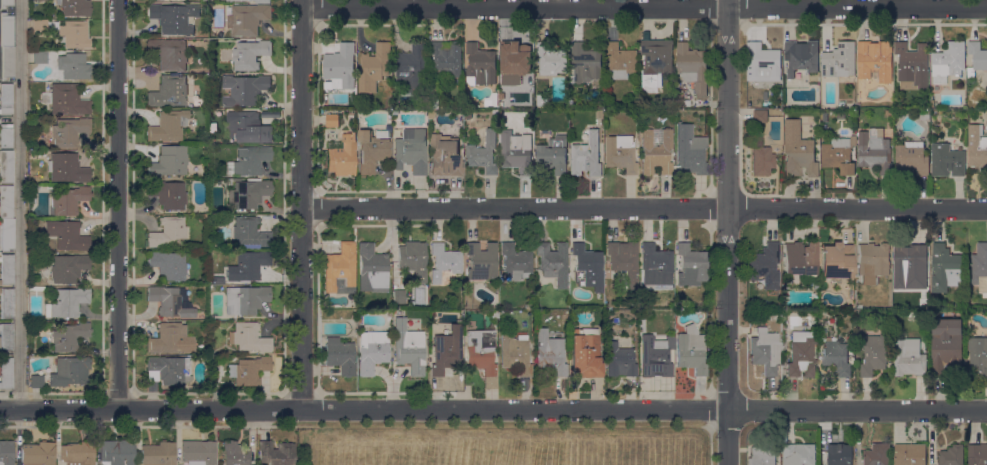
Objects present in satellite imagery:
building: (44, 0)
building: (156, 0)
building: (237, 0)
building: (262, 0)
building: (204, 1)
road: (595, 3)
road: (696, 3)
building: (5, 4)
road: (388, 4)
road: (455, 4)
road: (491, 4)
road: (630, 4)
road: (665, 4)
road: (810, 4)
road: (846, 4)
road: (881, 5)
road: (918, 5)
building: (74, 7)
road: (644, 8)
building: (174, 18)
building: (247, 18)
road: (507, 23)
road: (612, 23)
road: (355, 24)
road: (437, 24)
road: (790, 24)
road: (472, 25)
building: (39, 26)
road: (828, 28)
building: (6, 30)
road: (936, 31)
road: (360, 32)
road: (278, 33)
road: (395, 33)
building: (74, 34)
road: (484, 39)
road: (318, 46)
building: (169, 54)
building: (249, 54)
building: (801, 57)
building: (976, 57)
building: (40, 58)
building: (445, 58)
building: (551, 59)
building: (874, 59)
building: (515, 60)
building: (620, 60)
building: (655, 61)
building: (763, 61)
building: (839, 61)
building: (948, 61)
building: (7, 62)
building: (341, 64)
building: (479, 64)
building: (586, 64)
building: (912, 65)
building: (71, 66)
building: (374, 66)
building: (412, 67)
building: (693, 67)
road: (277, 69)
building: (36, 86)
building: (433, 86)
building: (501, 86)
building: (244, 89)
building: (168, 92)
building: (6, 99)
building: (65, 100)
building: (542, 100)
building: (788, 105)
building: (395, 111)
building: (888, 112)
building: (432, 113)
building: (495, 113)
building: (600, 113)
building: (469, 114)
building: (925, 114)
building: (575, 115)
building: (760, 115)
building: (822, 116)
building: (332, 119)
building: (167, 126)
building: (248, 127)
building: (69, 132)
building: (6, 133)
building: (976, 146)
building: (372, 150)
building: (798, 150)
building: (874, 150)
building: (411, 151)
building: (516, 151)
building: (656, 151)
building: (690, 151)
building: (482, 152)
building: (620, 153)
building: (553, 154)
building: (586, 154)
building: (839, 154)
building: (342, 156)
building: (445, 156)
building: (911, 157)
building: (249, 160)
building: (761, 160)
building: (946, 161)
building: (169, 162)
building: (6, 167)
building: (66, 169)
road: (266, 170)
road: (286, 175)
road: (268, 176)
road: (478, 176)
road: (587, 176)
building: (922, 184)
road: (594, 191)
road: (454, 192)
building: (248, 193)
road: (525, 193)
road: (561, 193)
building: (32, 194)
building: (167, 194)
road: (488, 194)
building: (69, 201)
building: (5, 202)
road: (119, 204)
road: (301, 204)
road: (21, 205)
road: (149, 206)
road: (644, 208)
road: (130, 214)
building: (201, 219)
road: (150, 221)
building: (168, 232)
building: (249, 232)
road: (726, 232)
building: (7, 234)
building: (67, 236)
building: (623, 256)
building: (910, 256)
building: (413, 260)
building: (798, 260)
building: (481, 261)
building: (836, 261)
building: (444, 262)
building: (516, 262)
building: (872, 262)
building: (553, 263)
building: (168, 265)
building: (765, 265)
building: (248, 266)
building: (588, 266)
building: (656, 266)
building: (691, 266)
building: (978, 266)
building: (944, 267)
building: (68, 268)
building: (6, 270)
building: (339, 270)
building: (371, 270)
road: (141, 281)
building: (815, 285)
building: (36, 289)
building: (398, 297)
building: (245, 300)
building: (170, 302)
building: (7, 303)
building: (67, 303)
building: (529, 307)
building: (816, 307)
building: (814, 312)
building: (911, 313)
building: (389, 314)
building: (494, 314)
building: (501, 314)
building: (771, 314)
road: (147, 315)
road: (125, 320)
road: (147, 325)
building: (6, 336)
building: (68, 337)
building: (248, 338)
building: (170, 340)
building: (200, 347)
building: (408, 347)
building: (947, 347)
building: (372, 351)
building: (447, 351)
building: (691, 351)
building: (764, 351)
building: (549, 352)
building: (515, 353)
building: (481, 354)
building: (873, 354)
building: (585, 355)
building: (655, 355)
building: (801, 355)
building: (340, 356)
building: (978, 356)
building: (200, 357)
building: (836, 357)
building: (908, 357)
building: (619, 361)
building: (167, 370)
building: (69, 371)
building: (248, 371)
building: (6, 373)
building: (36, 382)
road: (208, 393)
road: (493, 409)
road: (520, 425)
road: (147, 426)
building: (117, 452)
building: (198, 452)
building: (6, 453)
building: (78, 453)
building: (276, 453)
building: (38, 454)
building: (158, 454)
building: (235, 454)
building: (799, 454)
building: (909, 454)
building: (977, 454)
building: (841, 455)
building: (877, 455)
building: (952, 455)
building: (762, 456)

